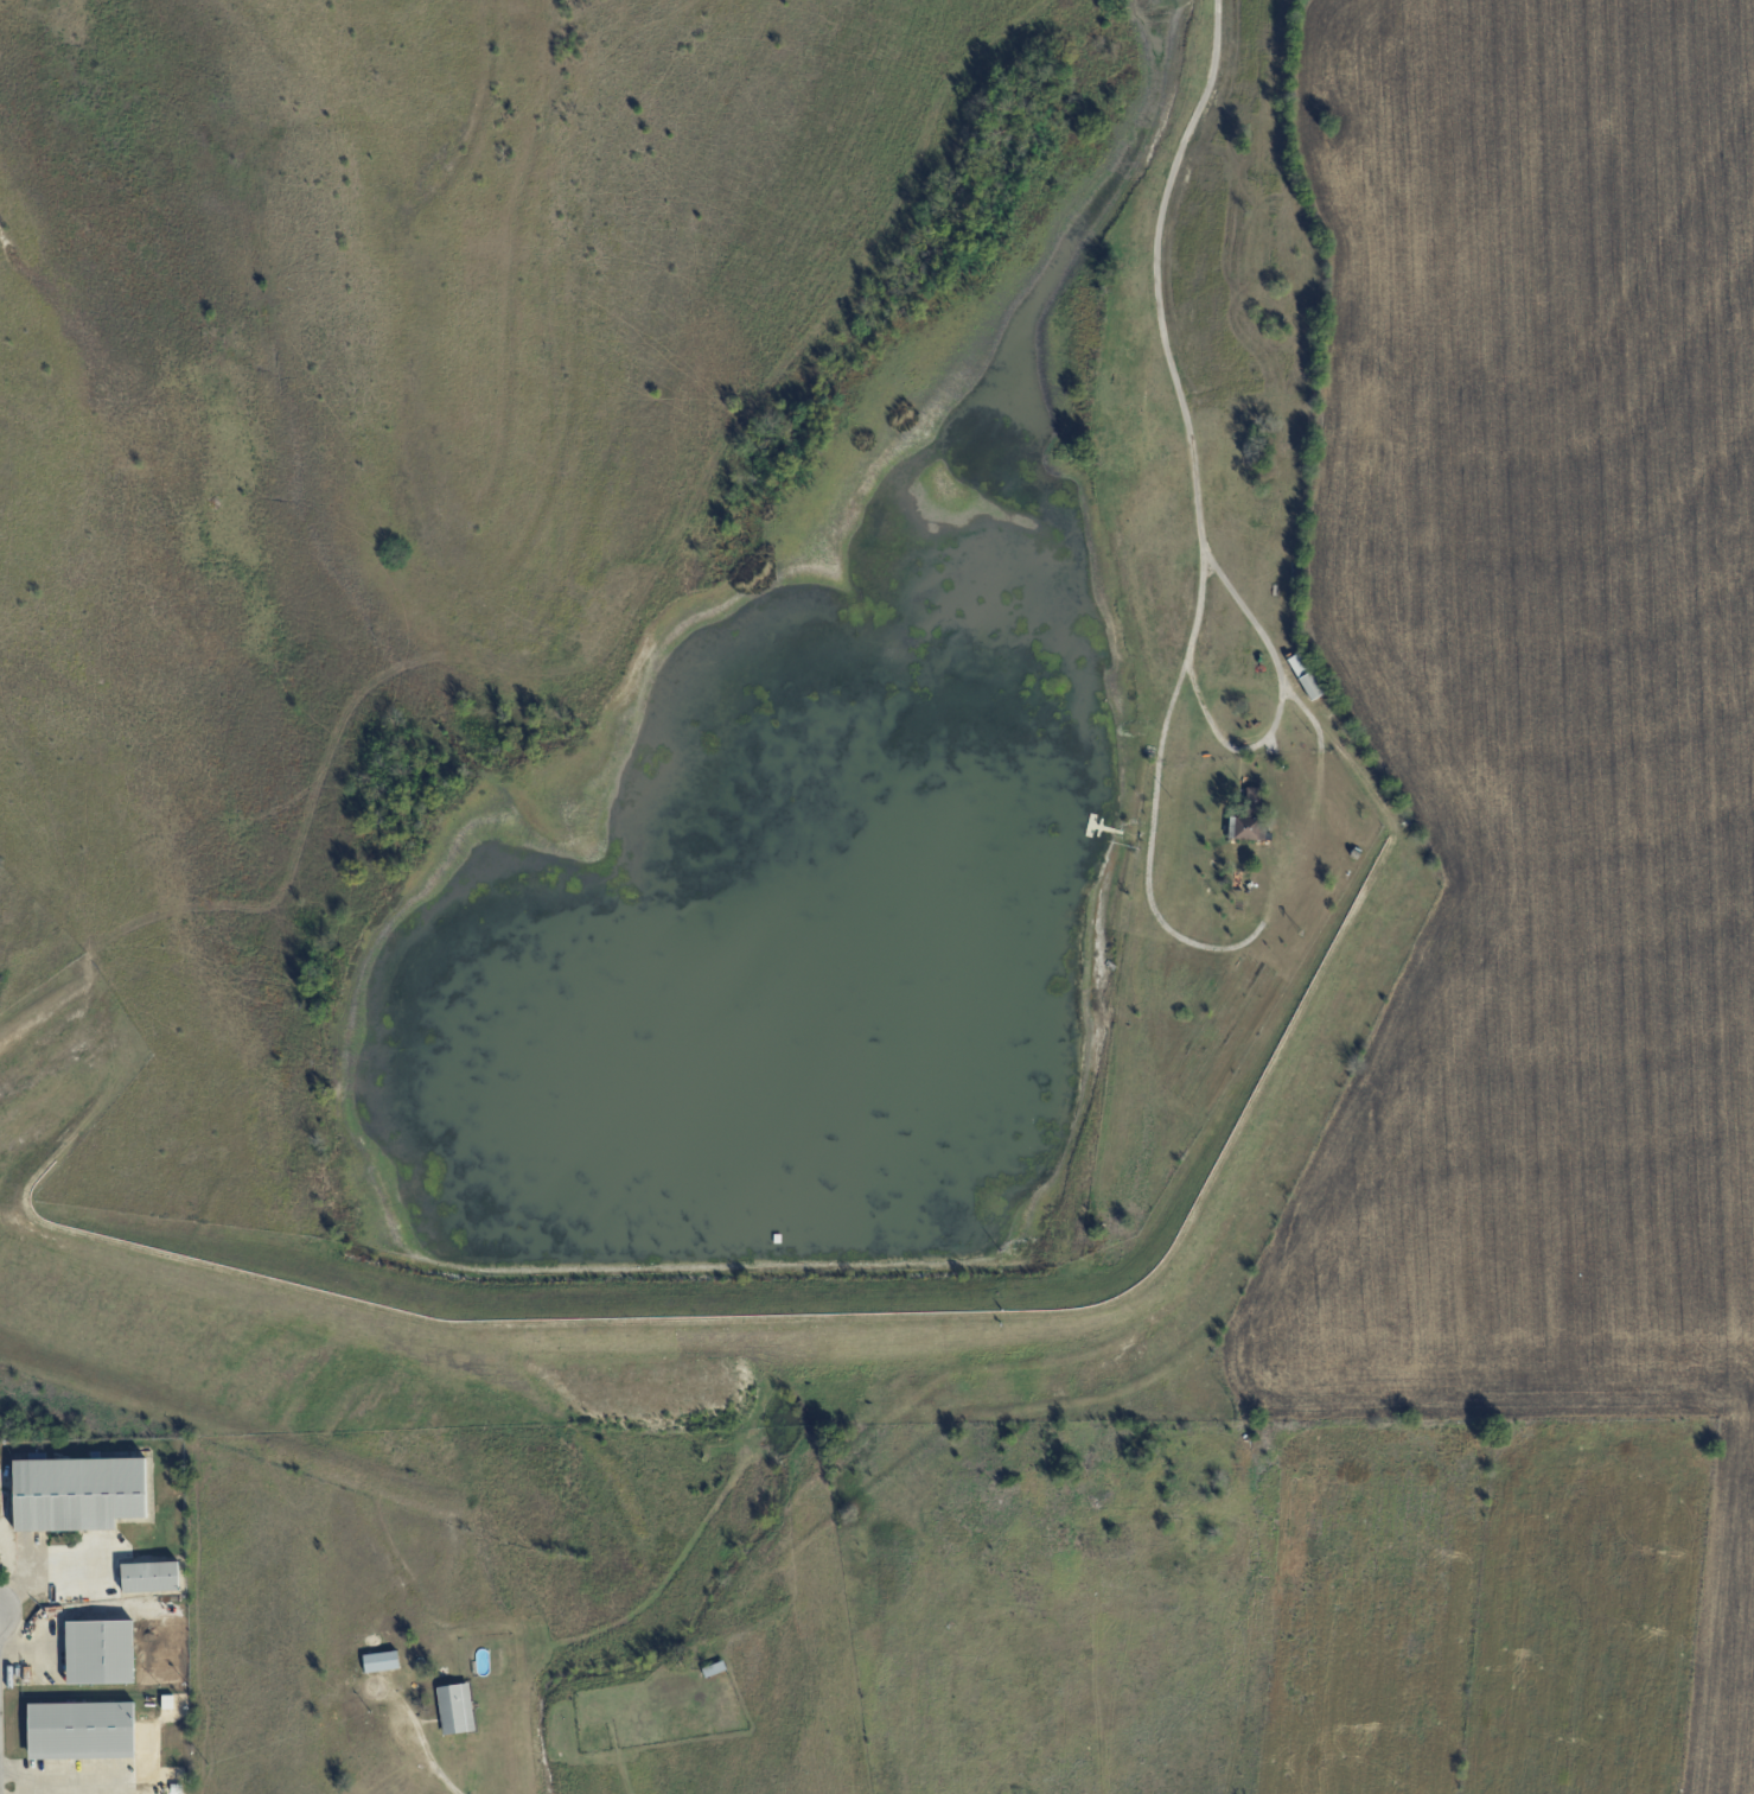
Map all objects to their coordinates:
road: (1197, 517)
building: (1305, 675)
road: (1280, 704)
building: (1252, 799)
building: (1245, 827)
pier: (1101, 828)
building: (1354, 853)
dam: (1250, 1113)
building: (77, 1493)
road: (42, 1570)
building: (149, 1577)
building: (177, 1608)
building: (98, 1652)
building: (379, 1661)
building: (455, 1709)
building: (81, 1730)
road: (445, 1775)
road: (58, 1785)

